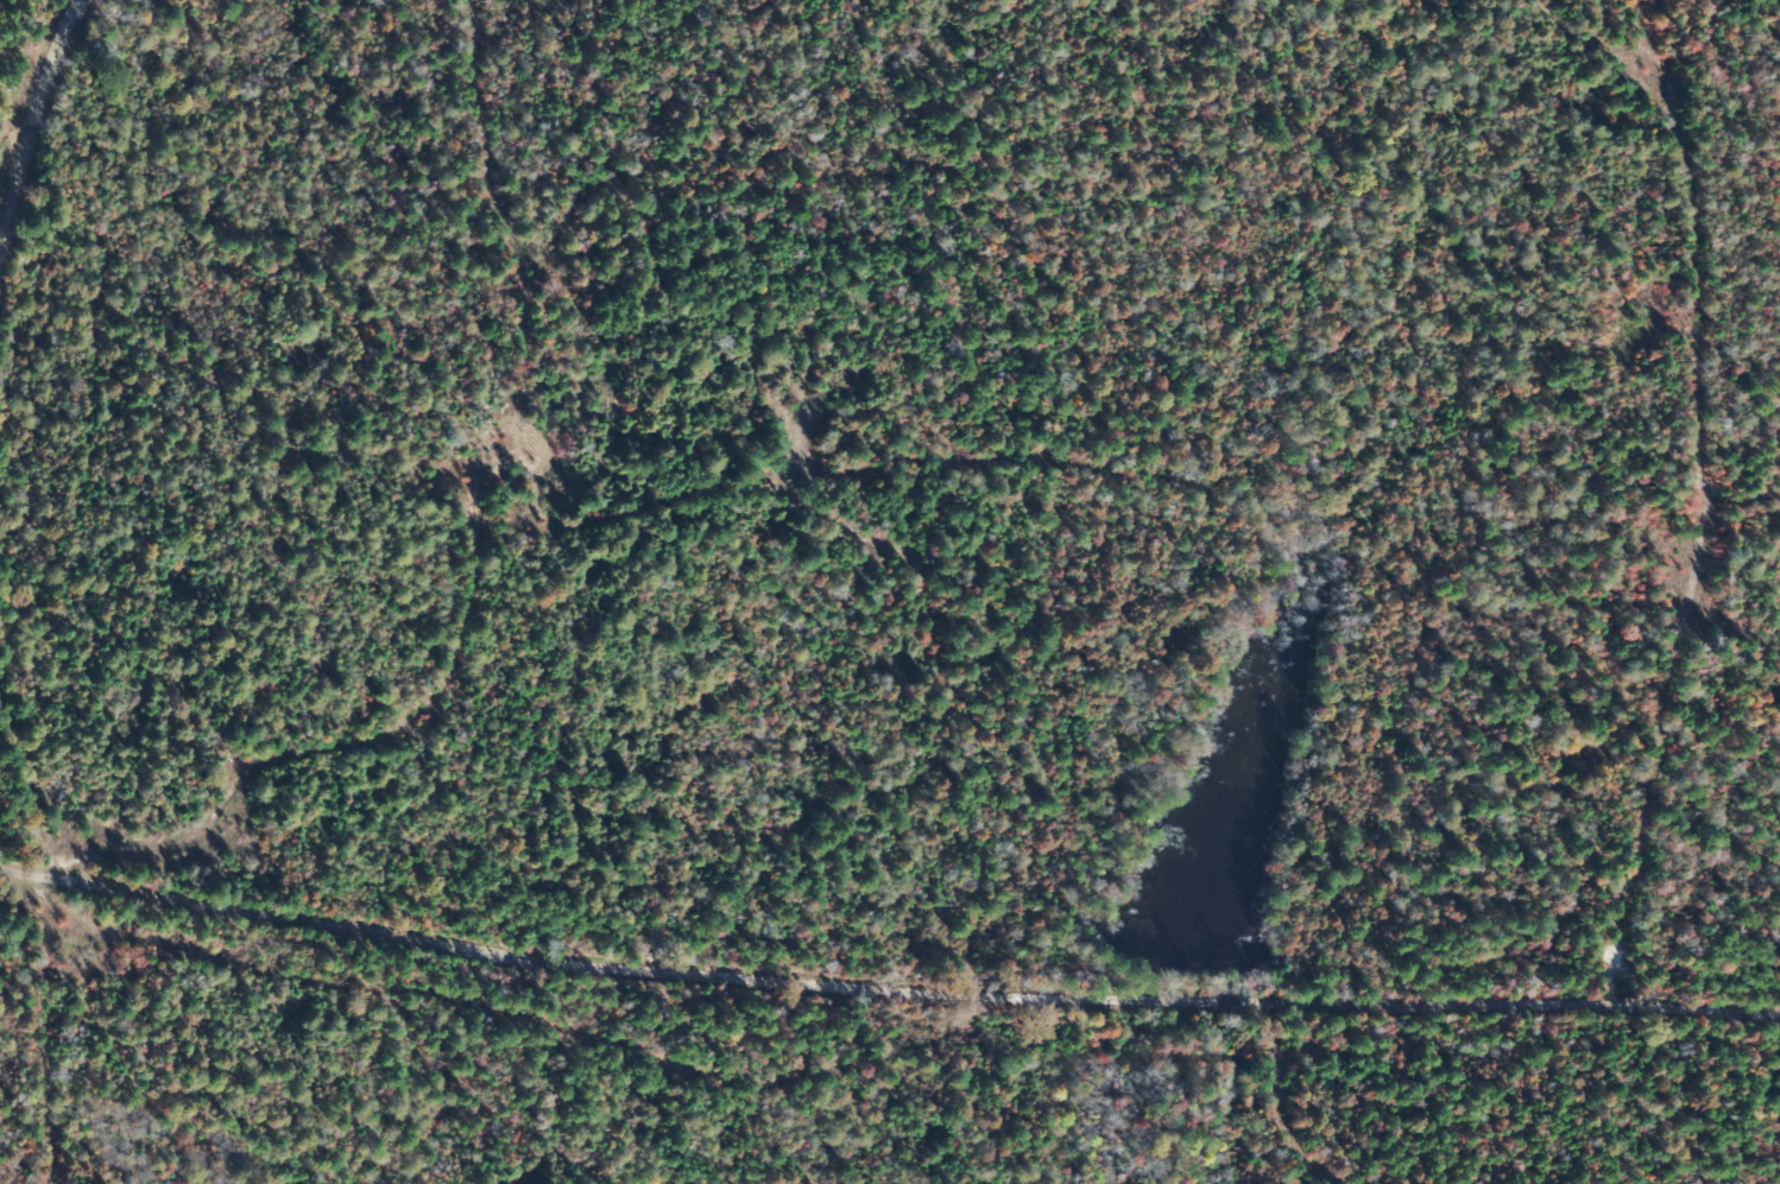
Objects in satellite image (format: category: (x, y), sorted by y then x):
road: (61, 235)
road: (891, 1051)

